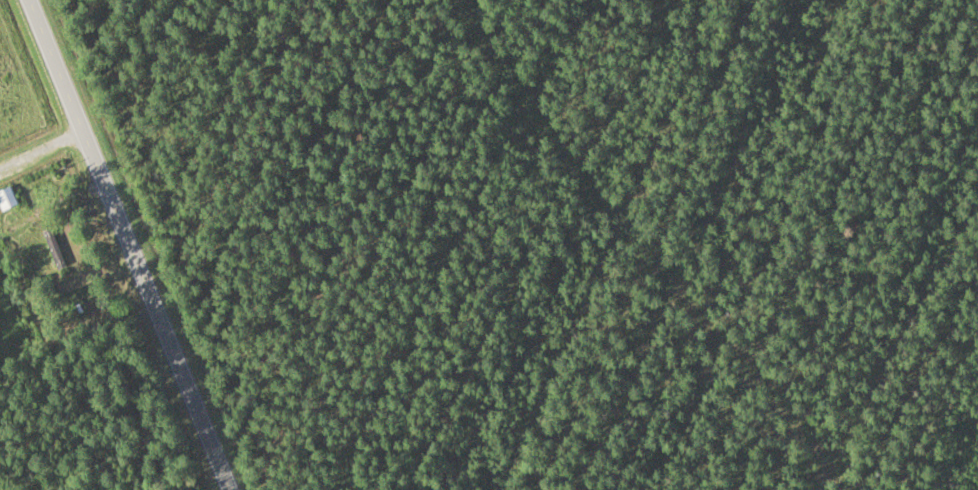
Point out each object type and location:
building: (7, 198)
road: (128, 245)
building: (53, 248)

